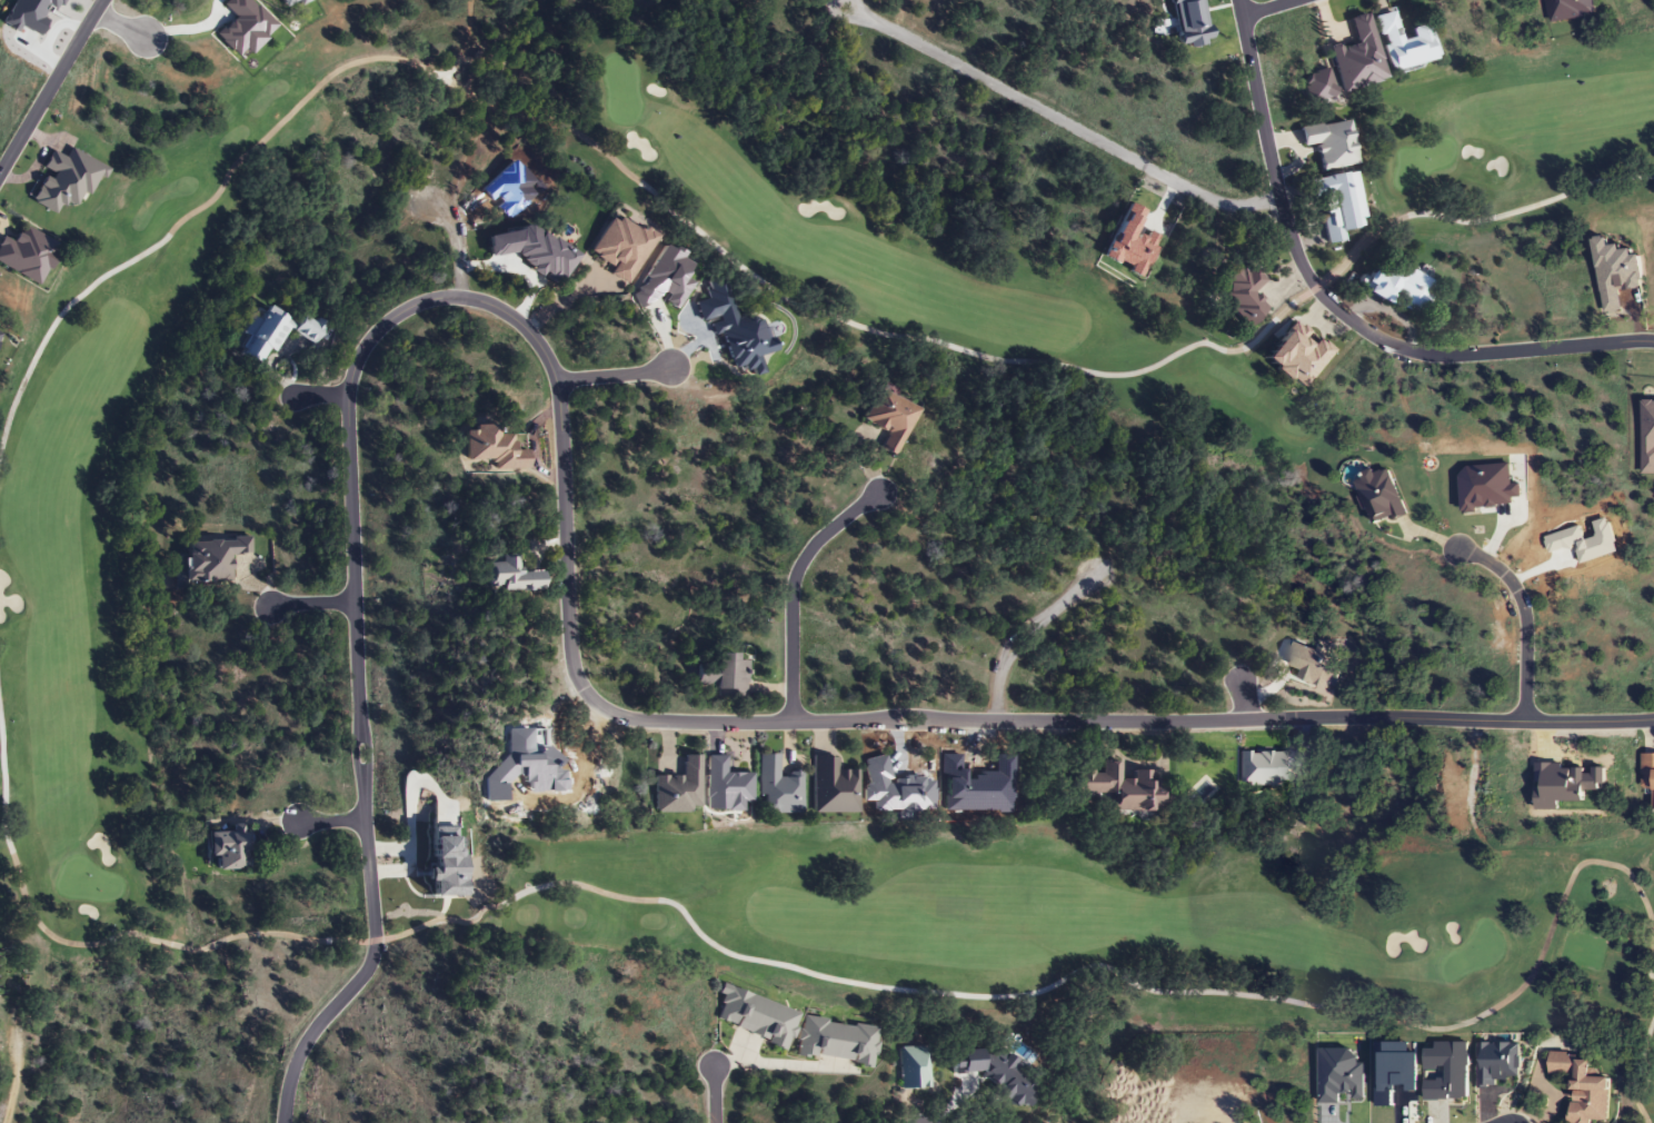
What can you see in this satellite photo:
road: (1266, 7)
building: (1567, 10)
road: (121, 23)
building: (1401, 44)
building: (1356, 59)
road: (51, 86)
road: (1055, 119)
building: (1327, 145)
building: (1334, 205)
road: (459, 237)
building: (618, 247)
building: (27, 256)
building: (1397, 289)
building: (1242, 296)
road: (1336, 308)
building: (272, 334)
building: (760, 336)
road: (612, 374)
road: (322, 394)
building: (887, 420)
building: (1379, 497)
road: (565, 547)
building: (210, 559)
building: (501, 577)
road: (794, 586)
road: (312, 603)
road: (1523, 617)
road: (1025, 630)
park: (78, 669)
building: (723, 677)
road: (1242, 699)
building: (1647, 776)
building: (831, 787)
building: (777, 788)
building: (677, 789)
building: (1117, 789)
road: (332, 822)
building: (226, 847)
building: (753, 1016)
building: (834, 1041)
building: (911, 1066)
building: (1580, 1087)
road: (714, 1093)

